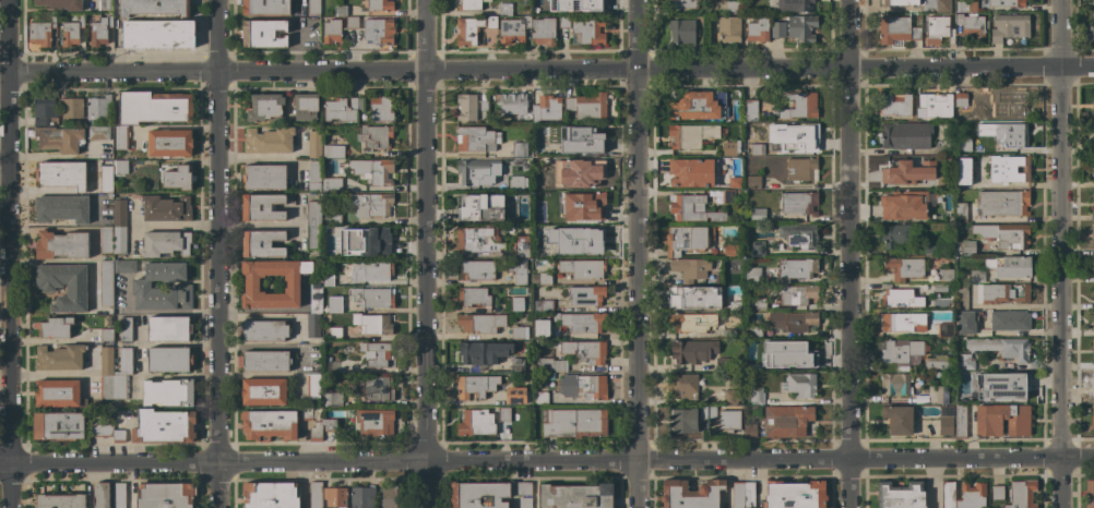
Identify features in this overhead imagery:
building: (1093, 1)
building: (899, 2)
building: (1002, 2)
building: (584, 3)
building: (686, 3)
building: (61, 4)
building: (105, 4)
building: (471, 4)
building: (380, 5)
building: (794, 5)
building: (154, 7)
building: (265, 7)
building: (313, 7)
building: (943, 7)
building: (965, 7)
building: (734, 8)
building: (506, 9)
building: (555, 9)
building: (340, 11)
building: (352, 22)
building: (490, 22)
building: (563, 22)
building: (1092, 22)
building: (972, 25)
building: (801, 27)
building: (1009, 27)
building: (729, 28)
building: (41, 29)
building: (513, 29)
building: (758, 29)
building: (777, 29)
building: (99, 31)
building: (331, 31)
building: (379, 31)
building: (467, 31)
building: (682, 31)
building: (896, 31)
building: (939, 31)
building: (71, 32)
building: (543, 32)
building: (587, 32)
building: (157, 34)
building: (263, 34)
road: (637, 35)
road: (845, 35)
road: (215, 36)
road: (424, 36)
road: (970, 68)
road: (741, 70)
road: (531, 72)
road: (215, 73)
building: (483, 101)
building: (1009, 102)
building: (360, 104)
building: (512, 104)
building: (895, 104)
building: (305, 106)
building: (587, 106)
building: (695, 106)
building: (799, 106)
building: (935, 106)
building: (968, 106)
building: (71, 107)
building: (265, 107)
building: (97, 108)
building: (154, 108)
building: (380, 108)
building: (466, 108)
building: (341, 109)
building: (1092, 109)
building: (547, 110)
building: (750, 110)
building: (44, 111)
building: (97, 133)
building: (1003, 133)
building: (1093, 134)
building: (690, 135)
building: (799, 135)
building: (905, 135)
building: (374, 136)
building: (121, 137)
building: (58, 138)
building: (476, 140)
building: (579, 140)
building: (269, 141)
building: (169, 143)
building: (314, 144)
building: (963, 144)
building: (732, 148)
building: (519, 149)
building: (757, 149)
building: (333, 152)
building: (1093, 164)
building: (120, 167)
building: (902, 167)
building: (801, 169)
building: (1009, 169)
building: (372, 170)
building: (583, 170)
building: (472, 171)
building: (964, 171)
building: (692, 172)
building: (61, 174)
building: (313, 176)
building: (264, 177)
building: (177, 178)
building: (106, 179)
building: (942, 181)
building: (543, 182)
building: (734, 182)
building: (752, 182)
building: (332, 183)
building: (515, 183)
building: (739, 192)
building: (109, 195)
building: (728, 196)
building: (1093, 197)
building: (799, 203)
building: (897, 203)
building: (1002, 203)
building: (370, 204)
building: (581, 204)
building: (472, 206)
building: (261, 207)
building: (61, 208)
building: (165, 208)
building: (691, 208)
building: (961, 211)
building: (1093, 211)
building: (119, 213)
building: (758, 215)
building: (544, 216)
building: (942, 216)
building: (334, 217)
building: (515, 217)
building: (312, 225)
building: (530, 228)
building: (1093, 228)
building: (893, 234)
building: (1003, 234)
building: (798, 237)
building: (1093, 237)
building: (372, 239)
building: (586, 239)
building: (687, 239)
building: (105, 240)
building: (119, 240)
building: (477, 240)
building: (165, 243)
building: (61, 244)
building: (262, 244)
building: (334, 246)
building: (521, 246)
building: (965, 247)
building: (757, 249)
building: (543, 251)
building: (732, 251)
building: (934, 251)
road: (8, 253)
road: (1058, 254)
building: (1092, 263)
building: (1009, 266)
building: (582, 268)
building: (690, 268)
building: (797, 268)
building: (903, 268)
building: (366, 269)
building: (477, 269)
building: (518, 269)
building: (752, 275)
building: (946, 275)
building: (976, 276)
building: (727, 277)
building: (545, 278)
building: (326, 279)
building: (105, 283)
building: (251, 283)
building: (181, 286)
building: (939, 287)
road: (846, 288)
building: (76, 289)
road: (634, 289)
road: (216, 290)
road: (424, 290)
building: (1001, 292)
building: (795, 293)
building: (1093, 293)
building: (314, 294)
building: (585, 295)
building: (372, 297)
building: (473, 297)
building: (960, 297)
building: (694, 298)
building: (901, 299)
building: (516, 303)
building: (758, 304)
building: (334, 305)
building: (544, 305)
building: (1093, 317)
building: (792, 320)
building: (904, 320)
building: (1009, 320)
building: (581, 322)
building: (691, 322)
building: (965, 322)
building: (480, 323)
building: (372, 324)
building: (312, 325)
building: (53, 327)
building: (539, 327)
building: (168, 328)
building: (124, 329)
building: (944, 329)
building: (264, 330)
building: (519, 331)
building: (752, 331)
building: (546, 332)
building: (335, 334)
building: (106, 335)
building: (544, 346)
building: (554, 346)
building: (1001, 347)
building: (1092, 348)
building: (585, 351)
building: (691, 351)
building: (481, 352)
building: (378, 353)
building: (902, 353)
building: (787, 354)
building: (59, 358)
building: (168, 359)
building: (106, 361)
building: (265, 361)
building: (965, 361)
building: (124, 362)
building: (546, 362)
building: (723, 364)
building: (934, 364)
building: (516, 365)
building: (335, 367)
building: (895, 384)
building: (1092, 384)
building: (799, 385)
building: (312, 386)
building: (475, 386)
building: (583, 386)
building: (682, 386)
building: (999, 386)
building: (106, 387)
building: (119, 387)
building: (373, 387)
building: (263, 391)
building: (168, 392)
building: (58, 394)
building: (515, 395)
building: (937, 395)
building: (754, 396)
building: (729, 397)
building: (539, 398)
building: (332, 399)
building: (750, 407)
building: (702, 412)
building: (712, 412)
building: (305, 413)
building: (503, 414)
building: (1092, 419)
building: (682, 420)
building: (729, 420)
building: (897, 420)
building: (946, 420)
building: (785, 421)
building: (961, 421)
building: (373, 422)
building: (476, 423)
building: (573, 423)
building: (269, 424)
building: (331, 424)
building: (58, 425)
building: (164, 426)
building: (988, 427)
building: (100, 430)
building: (316, 430)
building: (749, 431)
building: (119, 436)
road: (547, 459)
road: (932, 477)
building: (523, 488)
building: (997, 492)
building: (314, 494)
building: (690, 494)
building: (1021, 494)
building: (1089, 494)
building: (100, 495)
building: (119, 495)
building: (165, 495)
building: (269, 495)
building: (478, 495)
building: (737, 495)
building: (749, 495)
building: (794, 495)
building: (900, 495)
building: (948, 495)
building: (334, 496)
building: (575, 496)
building: (971, 496)
building: (361, 497)
building: (390, 497)
building: (60, 500)
building: (524, 503)

